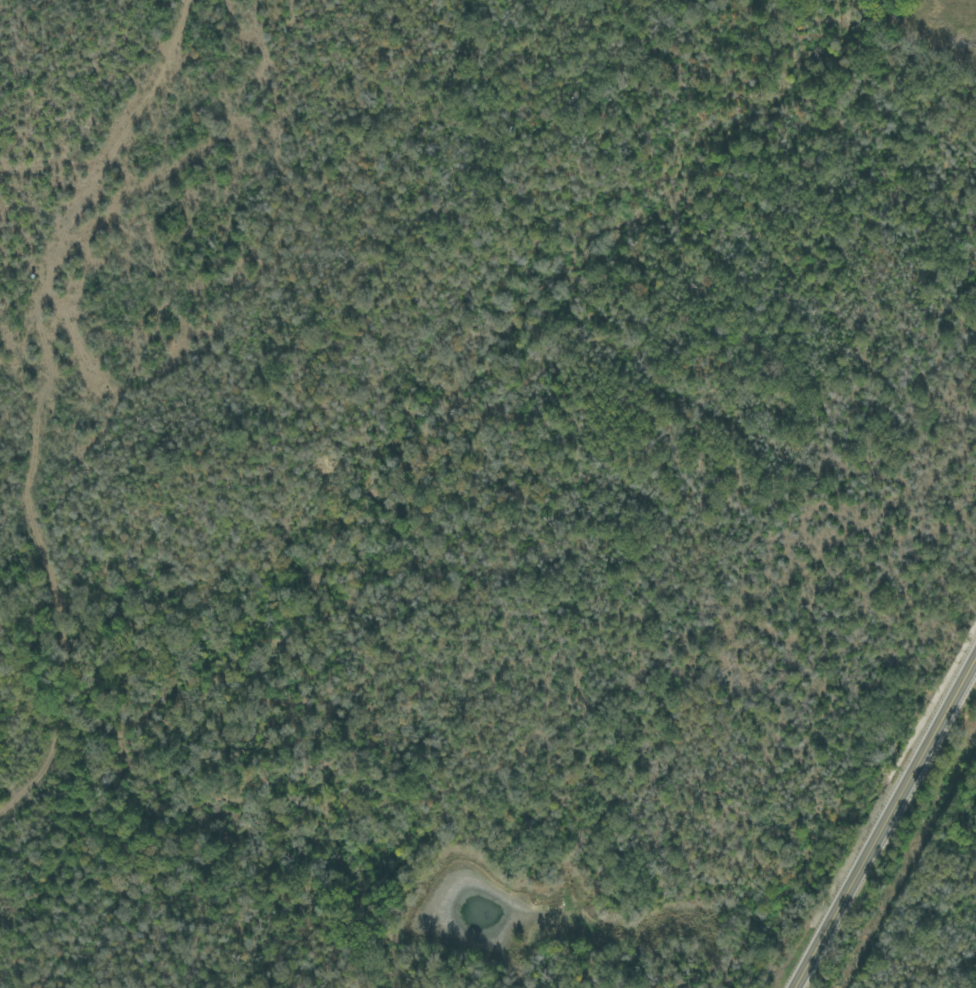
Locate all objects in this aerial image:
road: (697, 313)
road: (884, 823)

